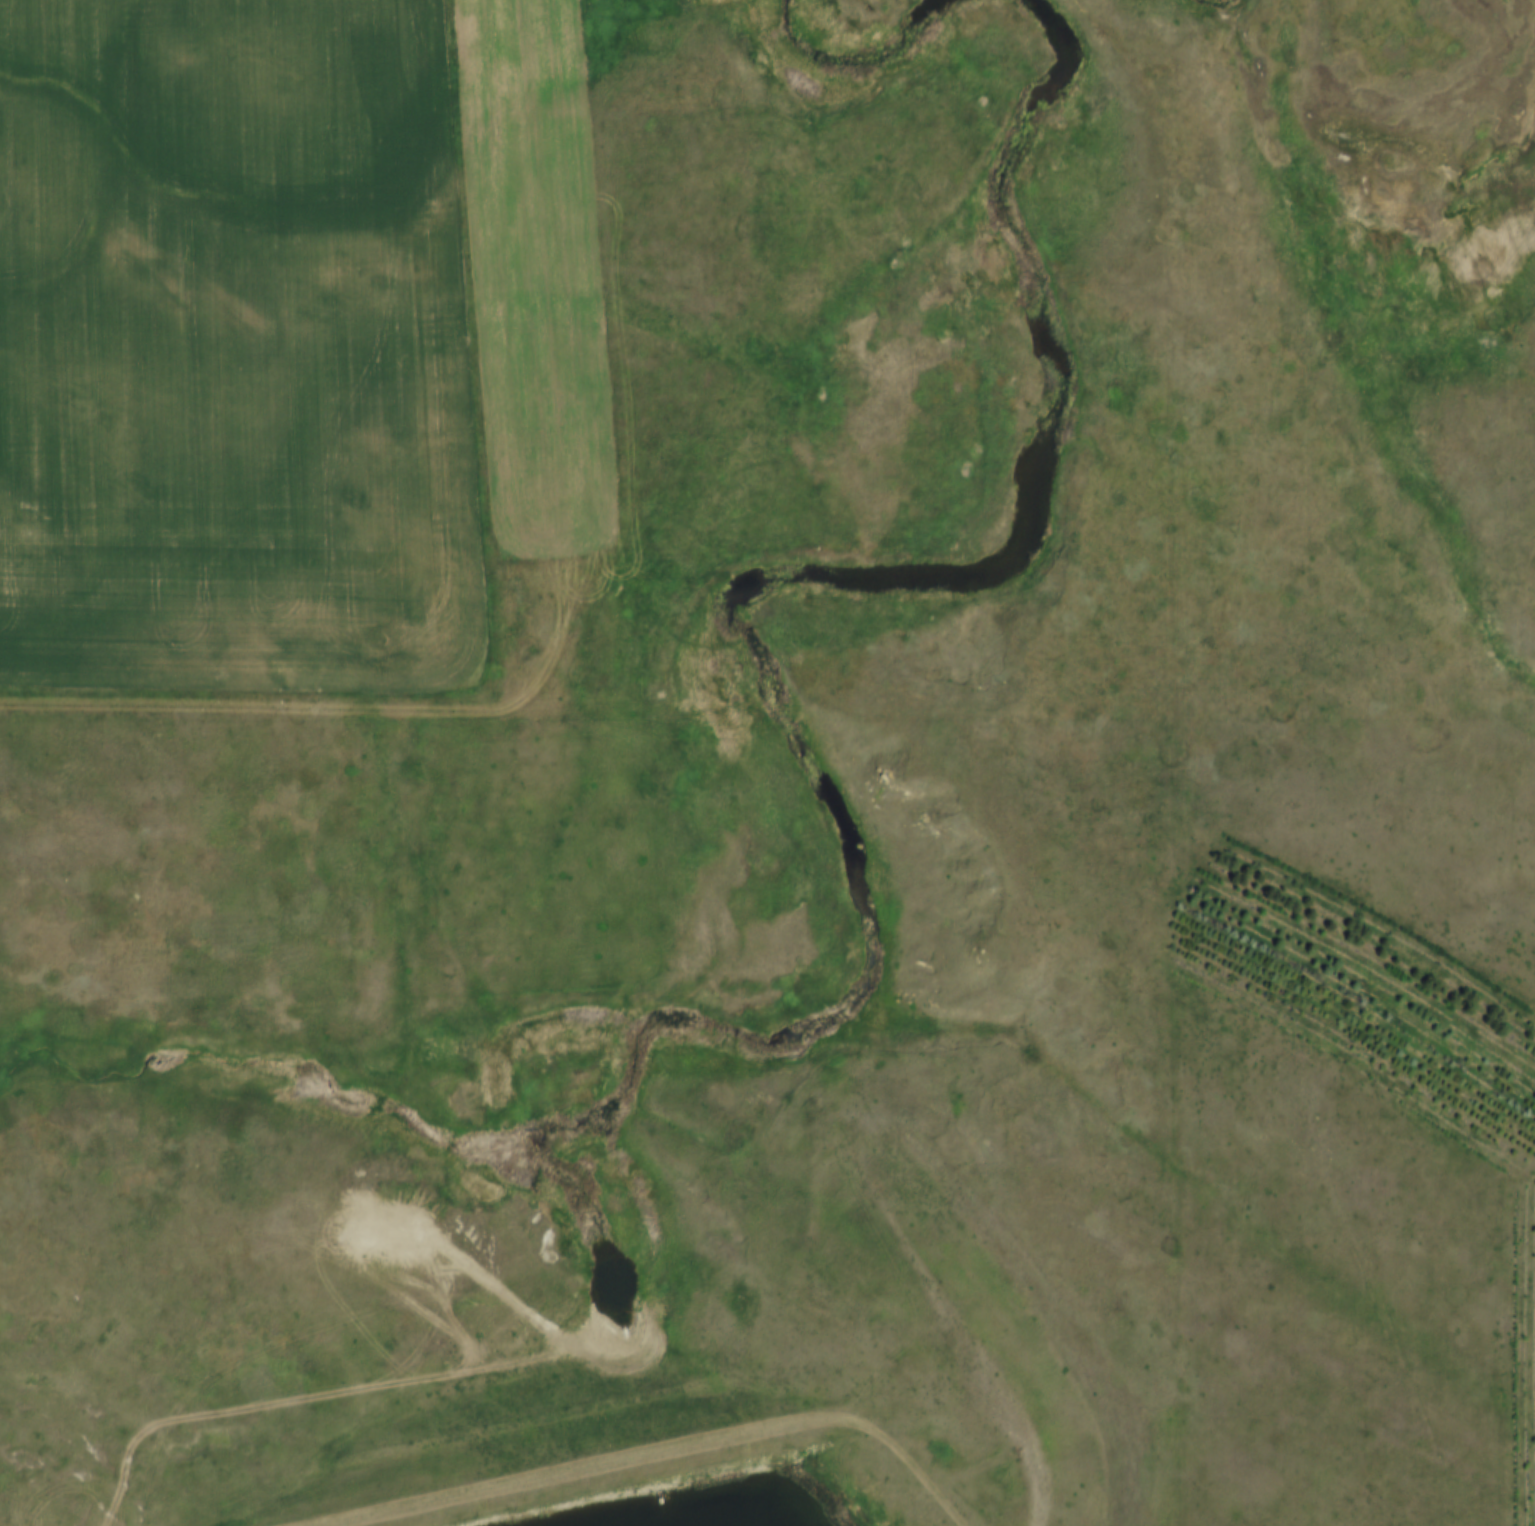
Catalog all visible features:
road: (269, 706)
road: (660, 1457)
dam: (587, 1474)

